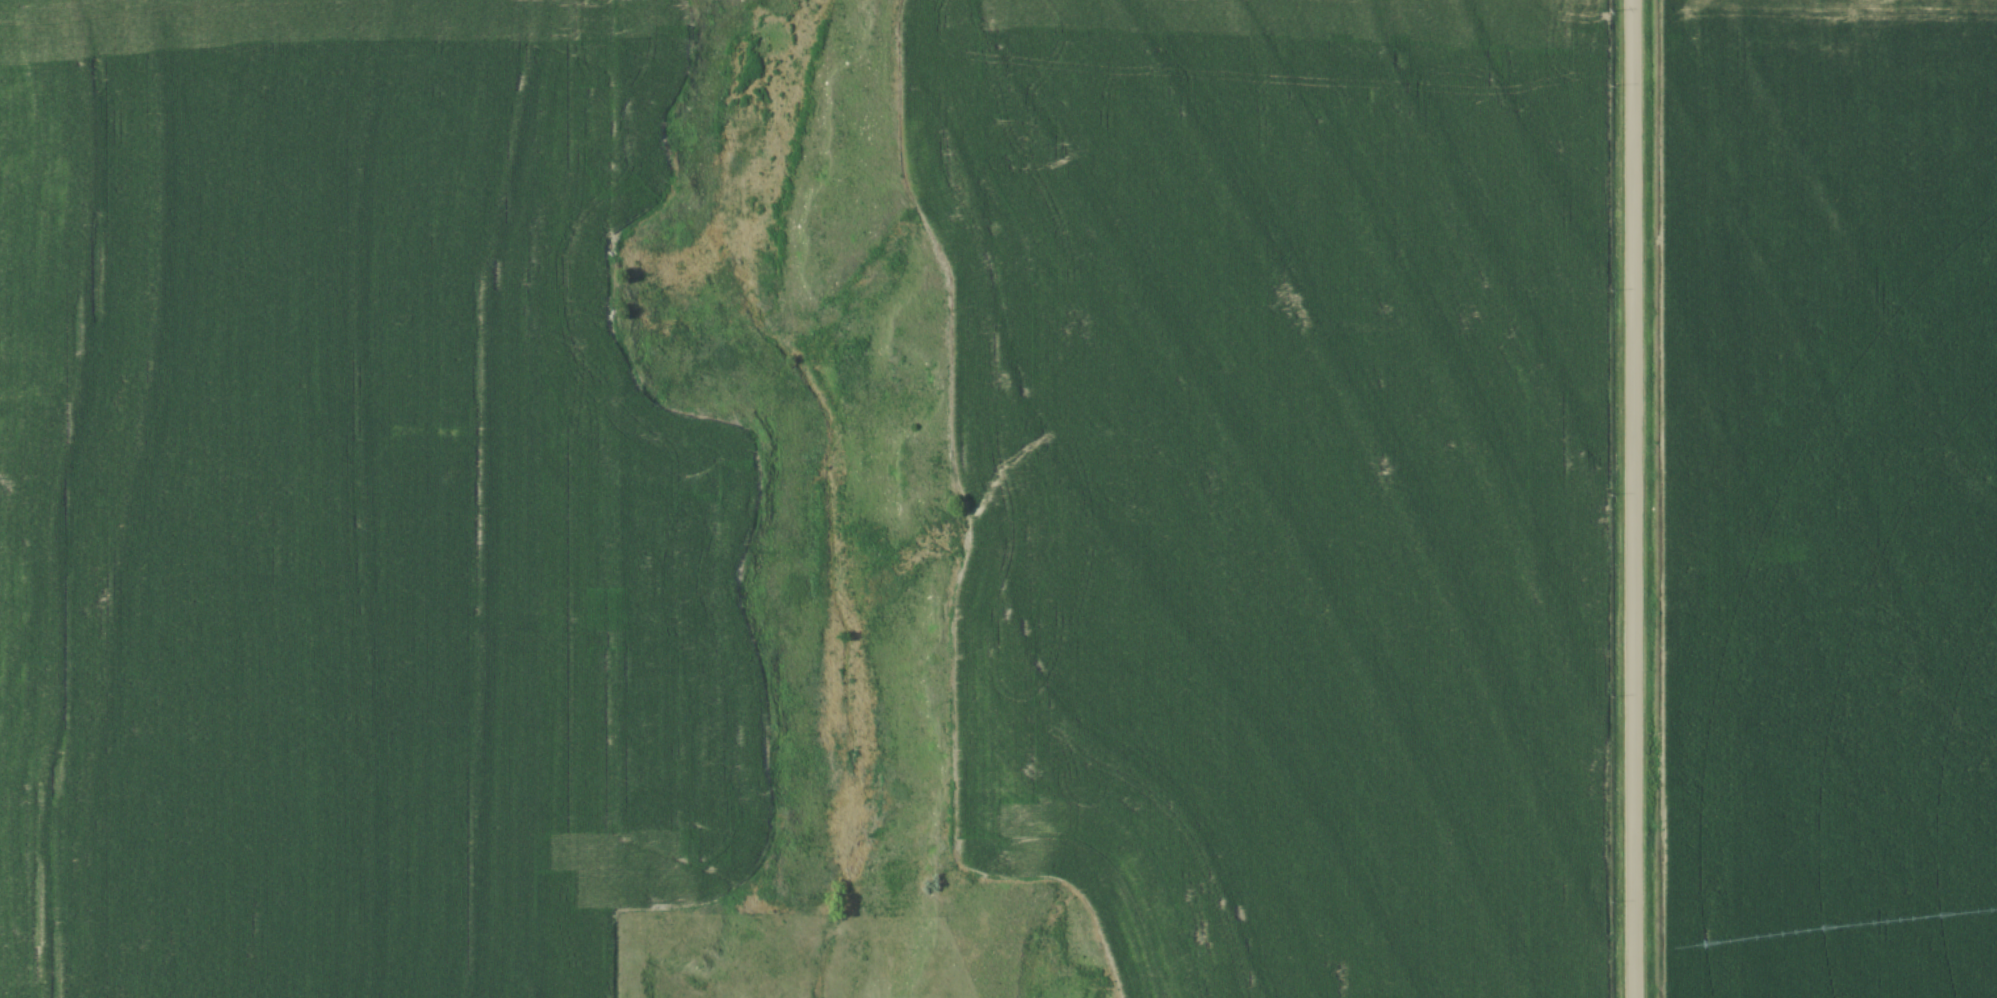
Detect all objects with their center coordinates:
road: (1628, 498)

